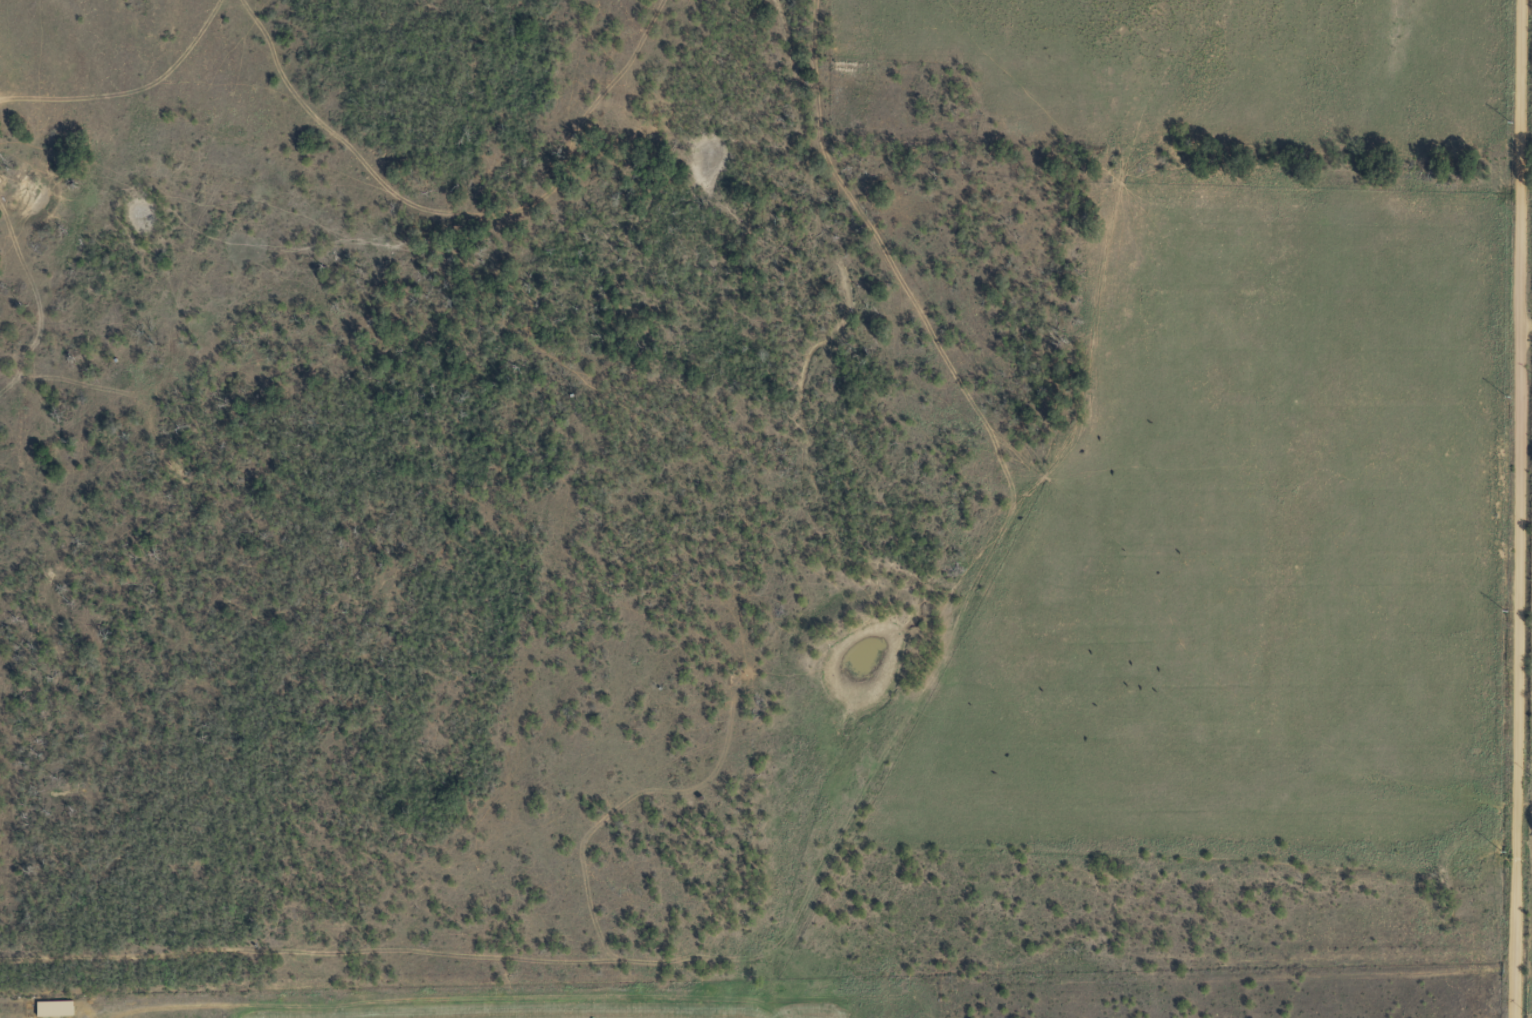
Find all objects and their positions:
road: (1531, 983)

